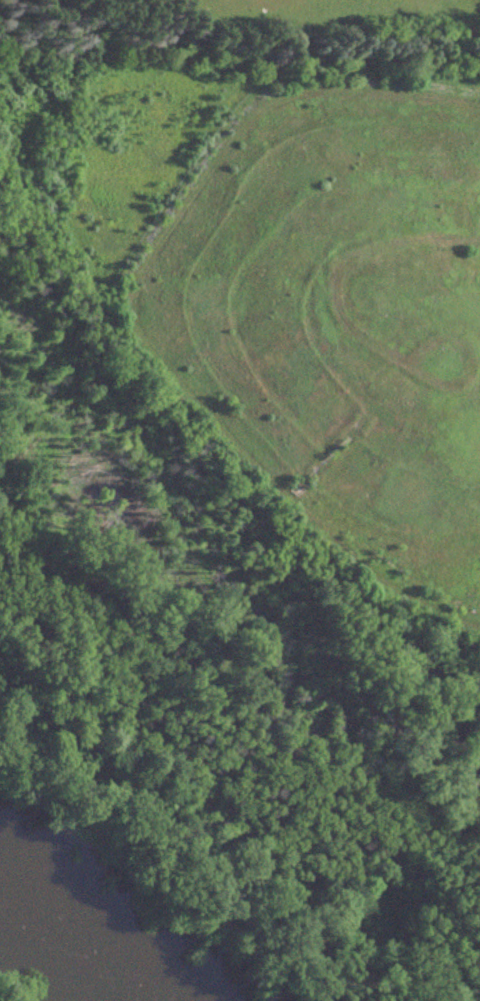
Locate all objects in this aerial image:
road: (454, 63)
river: (81, 944)

